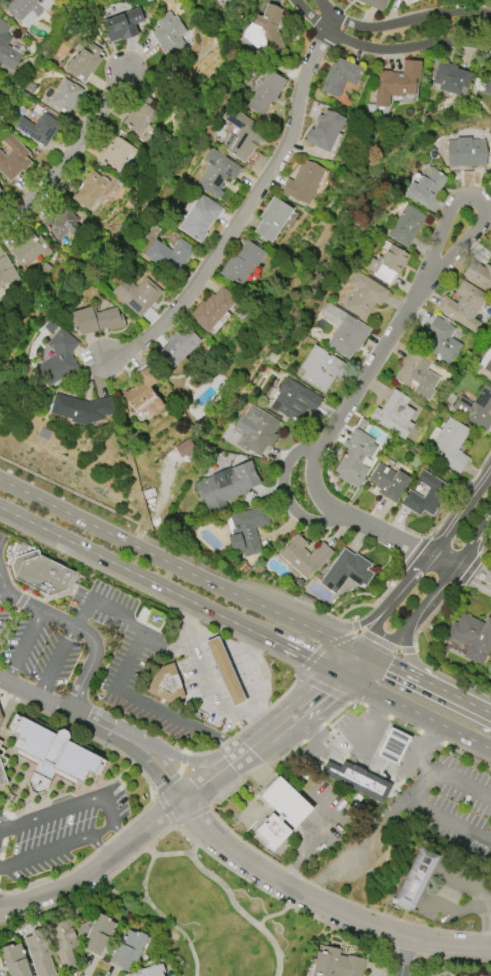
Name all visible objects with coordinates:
building: (413, 0)
building: (486, 0)
building: (375, 4)
building: (232, 5)
building: (27, 9)
road: (401, 21)
building: (122, 24)
building: (265, 31)
building: (169, 39)
building: (7, 49)
road: (385, 49)
building: (85, 62)
building: (341, 79)
building: (451, 79)
building: (397, 83)
building: (484, 85)
building: (266, 93)
building: (66, 96)
building: (141, 115)
building: (44, 129)
building: (325, 131)
building: (242, 135)
road: (70, 153)
building: (118, 153)
building: (466, 153)
building: (13, 159)
building: (217, 173)
building: (303, 182)
building: (427, 188)
building: (0, 190)
building: (91, 190)
building: (0, 194)
road: (476, 199)
road: (245, 207)
building: (200, 218)
building: (272, 219)
building: (64, 224)
building: (407, 226)
building: (31, 250)
building: (170, 256)
building: (242, 263)
building: (388, 263)
building: (8, 275)
building: (479, 275)
building: (137, 295)
building: (365, 295)
building: (464, 306)
building: (212, 310)
building: (97, 320)
building: (345, 331)
building: (443, 342)
building: (178, 346)
building: (59, 358)
building: (486, 361)
building: (321, 369)
building: (419, 374)
building: (144, 393)
road: (350, 399)
building: (295, 400)
building: (476, 408)
building: (82, 409)
building: (394, 415)
building: (257, 430)
building: (450, 444)
building: (184, 448)
building: (355, 458)
building: (389, 483)
building: (226, 486)
road: (283, 494)
building: (426, 496)
road: (468, 507)
road: (69, 514)
road: (482, 525)
building: (247, 531)
parking lot: (2, 541)
road: (423, 553)
building: (305, 557)
building: (347, 571)
building: (40, 573)
road: (1, 589)
road: (251, 601)
road: (427, 601)
road: (392, 605)
building: (153, 618)
road: (245, 628)
road: (78, 629)
traffic signals: (369, 632)
road: (216, 636)
building: (471, 637)
road: (23, 646)
building: (455, 647)
road: (163, 648)
parking lot: (36, 651)
road: (370, 655)
traffic signals: (307, 659)
building: (490, 659)
parking lot: (130, 660)
road: (55, 662)
traffic signals: (389, 664)
road: (358, 667)
road: (425, 670)
building: (224, 671)
road: (248, 672)
road: (117, 683)
building: (164, 684)
road: (433, 685)
road: (202, 687)
traffic signals: (320, 691)
road: (60, 708)
building: (0, 717)
building: (392, 746)
road: (348, 749)
building: (50, 755)
road: (160, 760)
road: (190, 761)
building: (2, 764)
road: (150, 770)
road: (255, 770)
road: (435, 773)
building: (356, 780)
road: (176, 803)
road: (438, 811)
building: (279, 813)
road: (109, 816)
parking lot: (58, 831)
road: (120, 833)
road: (318, 838)
road: (99, 847)
road: (361, 849)
road: (173, 853)
building: (414, 879)
road: (473, 884)
park: (207, 902)
road: (232, 902)
road: (5, 904)
road: (321, 904)
road: (473, 905)
road: (153, 908)
road: (279, 912)
building: (96, 935)
building: (65, 944)
building: (129, 950)
building: (40, 952)
road: (404, 956)
building: (16, 961)
building: (336, 963)
building: (150, 971)

